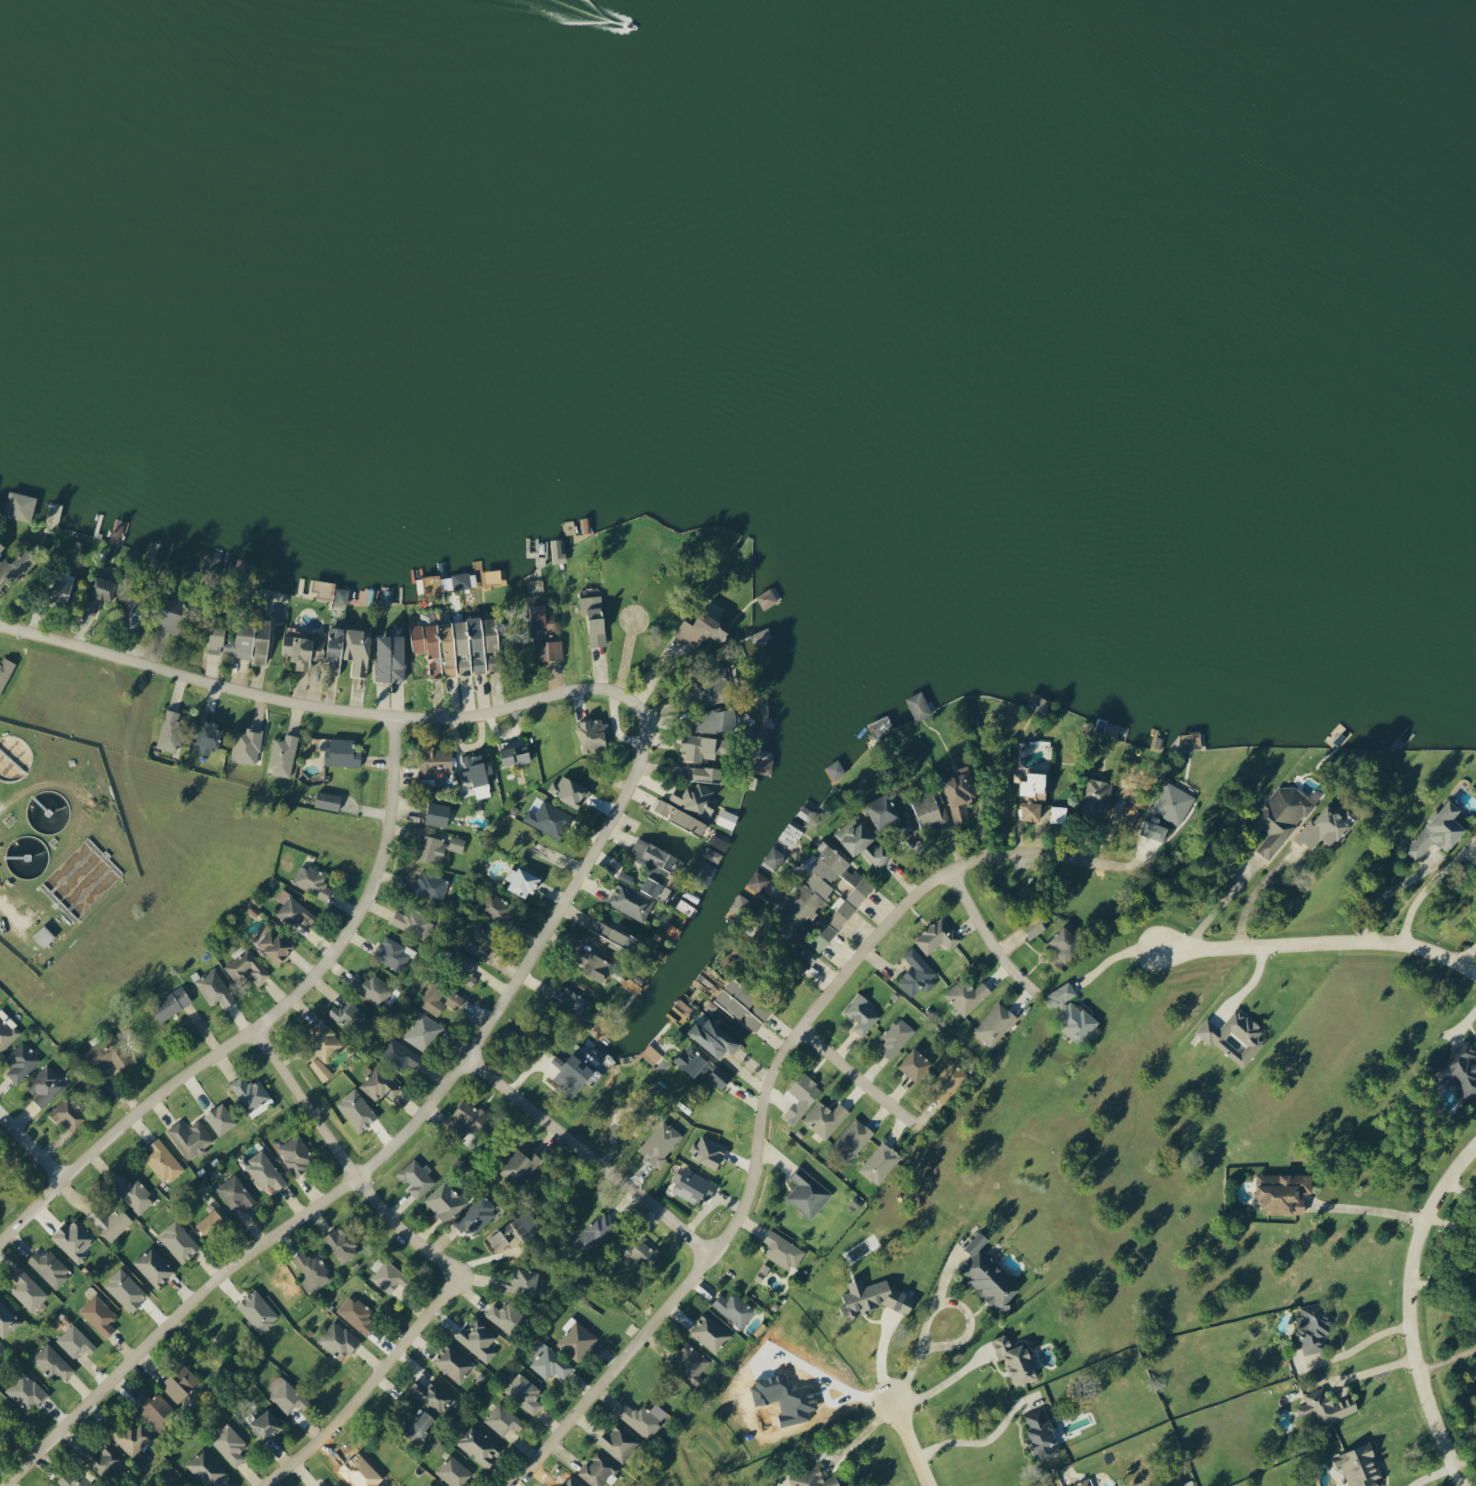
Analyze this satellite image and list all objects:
building: (20, 505)
building: (1, 544)
building: (558, 551)
building: (182, 559)
building: (15, 565)
building: (461, 580)
building: (62, 587)
building: (103, 587)
building: (341, 595)
building: (91, 604)
building: (134, 610)
building: (171, 614)
building: (595, 617)
building: (702, 628)
building: (545, 633)
building: (216, 635)
building: (251, 639)
building: (460, 645)
building: (303, 649)
building: (335, 650)
building: (359, 650)
building: (391, 657)
building: (5, 671)
building: (714, 686)
building: (919, 705)
building: (717, 719)
building: (170, 729)
building: (209, 732)
building: (594, 733)
building: (247, 745)
building: (702, 746)
building: (342, 753)
building: (283, 754)
building: (516, 754)
building: (435, 760)
building: (765, 765)
building: (476, 768)
building: (836, 769)
building: (707, 772)
building: (569, 790)
building: (960, 790)
building: (1034, 795)
building: (1097, 795)
building: (328, 800)
building: (1173, 802)
building: (687, 807)
building: (930, 808)
building: (886, 810)
building: (438, 813)
road: (1035, 813)
building: (1281, 817)
building: (548, 818)
building: (727, 818)
building: (1328, 826)
building: (1155, 827)
building: (1439, 830)
building: (862, 842)
building: (457, 844)
building: (432, 848)
building: (712, 854)
building: (774, 857)
building: (656, 866)
road: (581, 873)
building: (704, 873)
building: (312, 881)
building: (524, 881)
building: (817, 881)
building: (757, 884)
building: (428, 885)
building: (857, 885)
road: (370, 889)
road: (1136, 893)
road: (1388, 893)
building: (631, 900)
road: (1219, 901)
building: (293, 909)
building: (499, 909)
building: (413, 922)
building: (832, 925)
building: (1033, 925)
road: (984, 930)
building: (613, 933)
building: (43, 935)
road: (1113, 935)
building: (938, 936)
building: (483, 941)
road: (1312, 941)
building: (273, 943)
building: (1065, 944)
building: (807, 956)
building: (246, 966)
building: (598, 966)
building: (468, 972)
building: (917, 974)
road: (1255, 984)
building: (214, 988)
building: (371, 989)
building: (966, 995)
building: (435, 997)
building: (454, 1000)
building: (571, 1000)
building: (171, 1002)
building: (744, 1003)
building: (346, 1014)
building: (1071, 1014)
building: (862, 1015)
building: (995, 1023)
building: (7, 1031)
building: (422, 1032)
building: (715, 1036)
building: (1235, 1036)
building: (323, 1038)
building: (895, 1038)
road: (1072, 1049)
building: (106, 1052)
building: (399, 1055)
building: (693, 1060)
building: (21, 1061)
building: (915, 1063)
building: (664, 1064)
building: (320, 1069)
building: (1457, 1069)
building: (575, 1071)
road: (855, 1074)
building: (719, 1077)
building: (948, 1082)
building: (379, 1084)
building: (45, 1085)
building: (252, 1094)
road: (760, 1095)
building: (801, 1097)
building: (69, 1114)
building: (471, 1115)
building: (221, 1118)
building: (825, 1118)
road: (122, 1125)
building: (190, 1138)
building: (853, 1138)
building: (661, 1142)
road: (32, 1145)
building: (708, 1151)
building: (296, 1153)
road: (590, 1153)
building: (163, 1161)
building: (880, 1163)
building: (518, 1165)
building: (264, 1171)
building: (417, 1178)
building: (694, 1185)
building: (235, 1191)
building: (808, 1192)
building: (1284, 1192)
building: (134, 1194)
building: (445, 1201)
road: (1371, 1209)
building: (476, 1215)
building: (110, 1221)
building: (211, 1223)
building: (512, 1233)
building: (595, 1233)
building: (74, 1239)
building: (179, 1241)
building: (342, 1244)
building: (783, 1250)
building: (636, 1251)
road: (443, 1259)
building: (154, 1266)
building: (50, 1268)
building: (312, 1271)
building: (387, 1275)
building: (989, 1275)
building: (522, 1281)
building: (27, 1290)
building: (875, 1297)
building: (735, 1309)
building: (257, 1311)
building: (356, 1314)
building: (99, 1315)
road: (1417, 1315)
building: (505, 1316)
building: (7, 1320)
building: (1313, 1326)
building: (710, 1333)
road: (970, 1335)
road: (1370, 1338)
building: (338, 1339)
building: (478, 1340)
building: (75, 1341)
building: (577, 1341)
road: (1450, 1358)
road: (882, 1359)
building: (1016, 1359)
building: (688, 1360)
building: (52, 1362)
building: (454, 1362)
building: (550, 1362)
road: (1377, 1368)
road: (941, 1381)
building: (179, 1382)
building: (26, 1392)
building: (524, 1392)
building: (285, 1395)
building: (432, 1395)
building: (1327, 1406)
building: (155, 1409)
building: (503, 1419)
building: (640, 1420)
building: (266, 1425)
building: (418, 1425)
building: (1042, 1434)
road: (861, 1435)
building: (132, 1437)
road: (982, 1440)
building: (618, 1442)
building: (229, 1444)
road: (912, 1444)
building: (480, 1446)
building: (104, 1458)
building: (1361, 1465)
building: (207, 1467)
building: (598, 1470)
building: (454, 1472)
road: (1436, 1473)
building: (74, 1479)
building: (813, 1479)
building: (1085, 1483)
building: (321, 1484)
building: (429, 1484)
building: (337, 1485)

